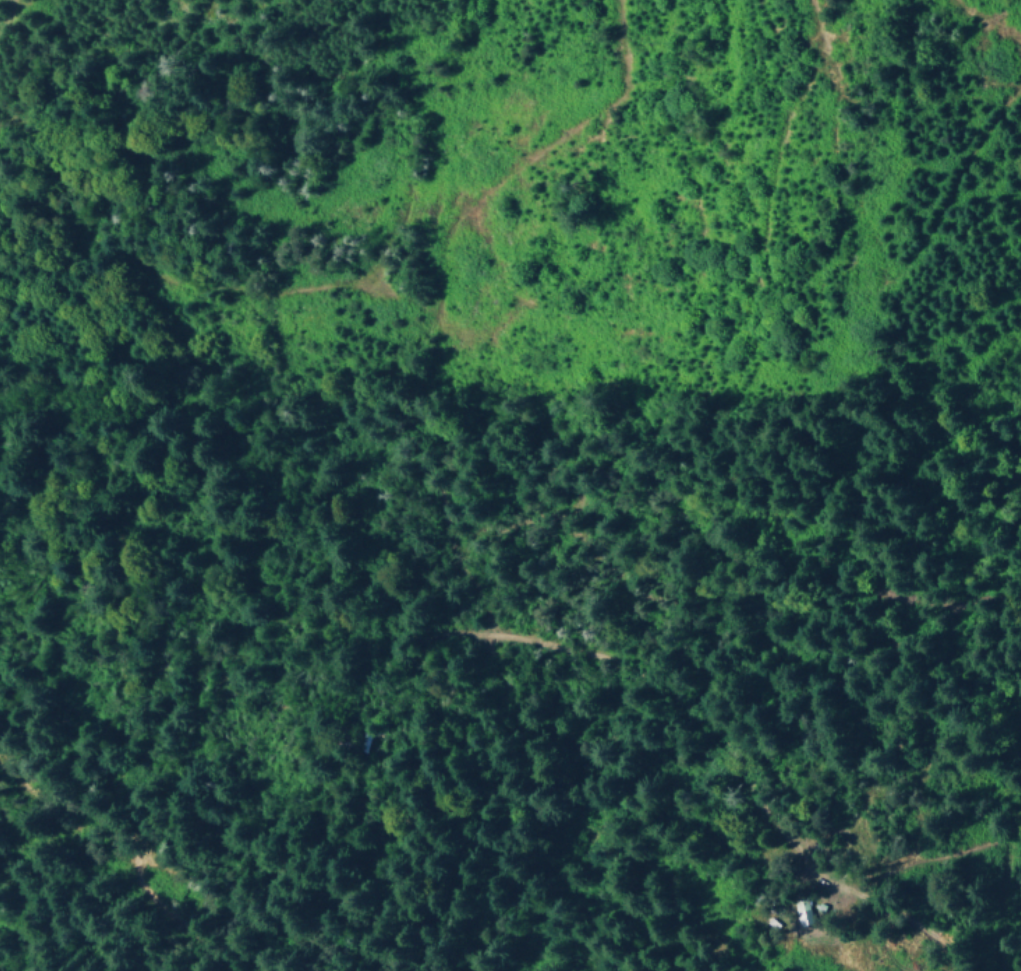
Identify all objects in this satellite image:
building: (801, 910)

